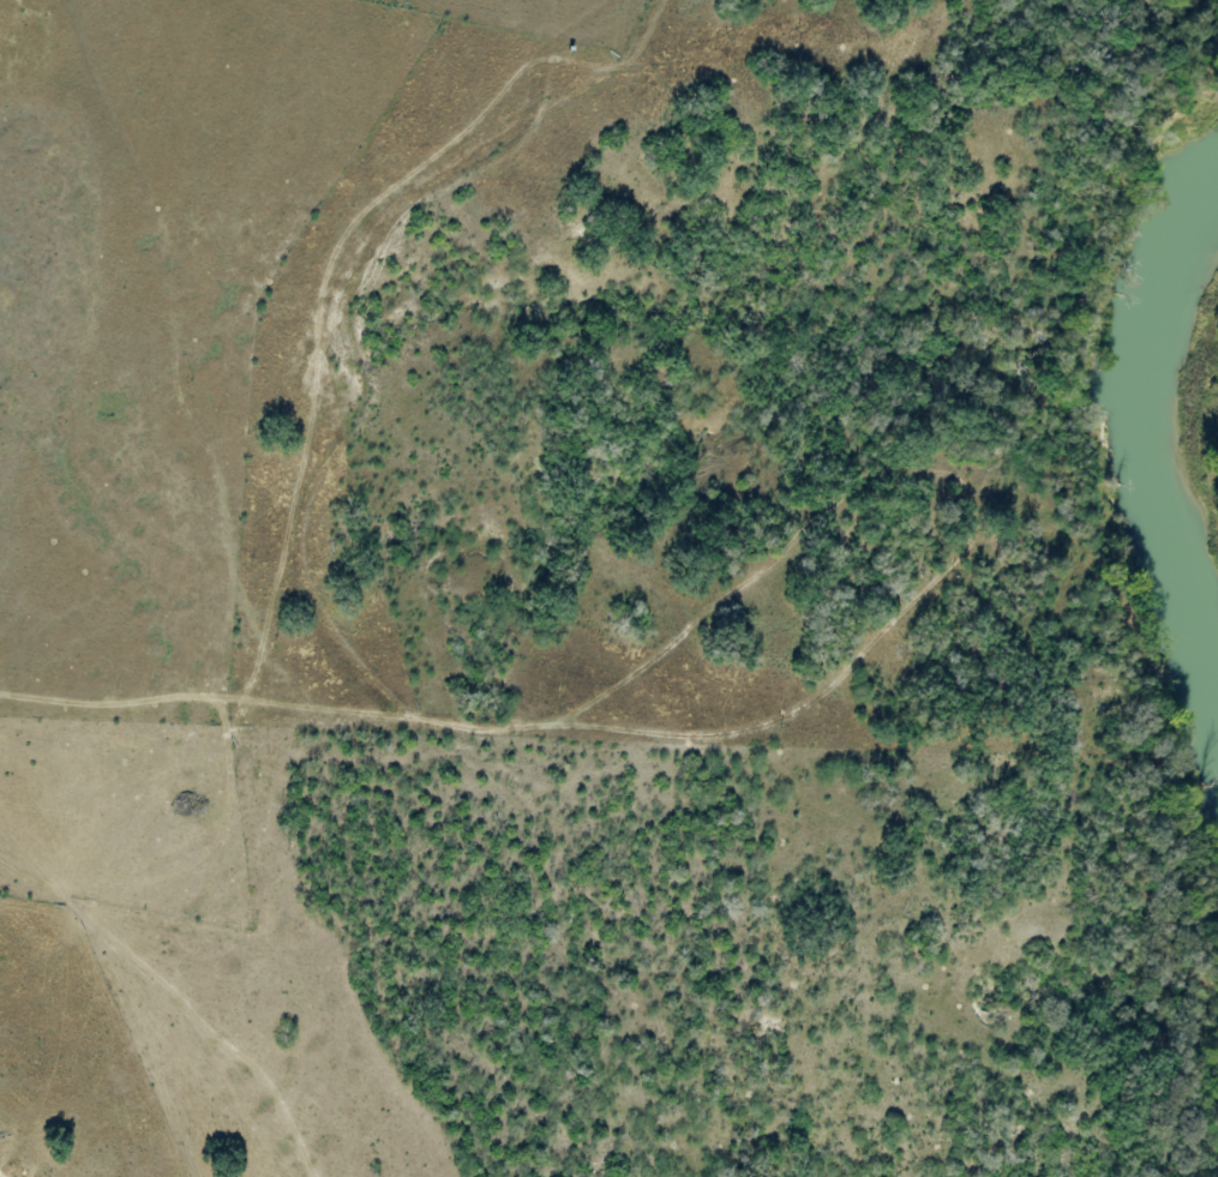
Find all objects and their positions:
river: (1153, 428)

